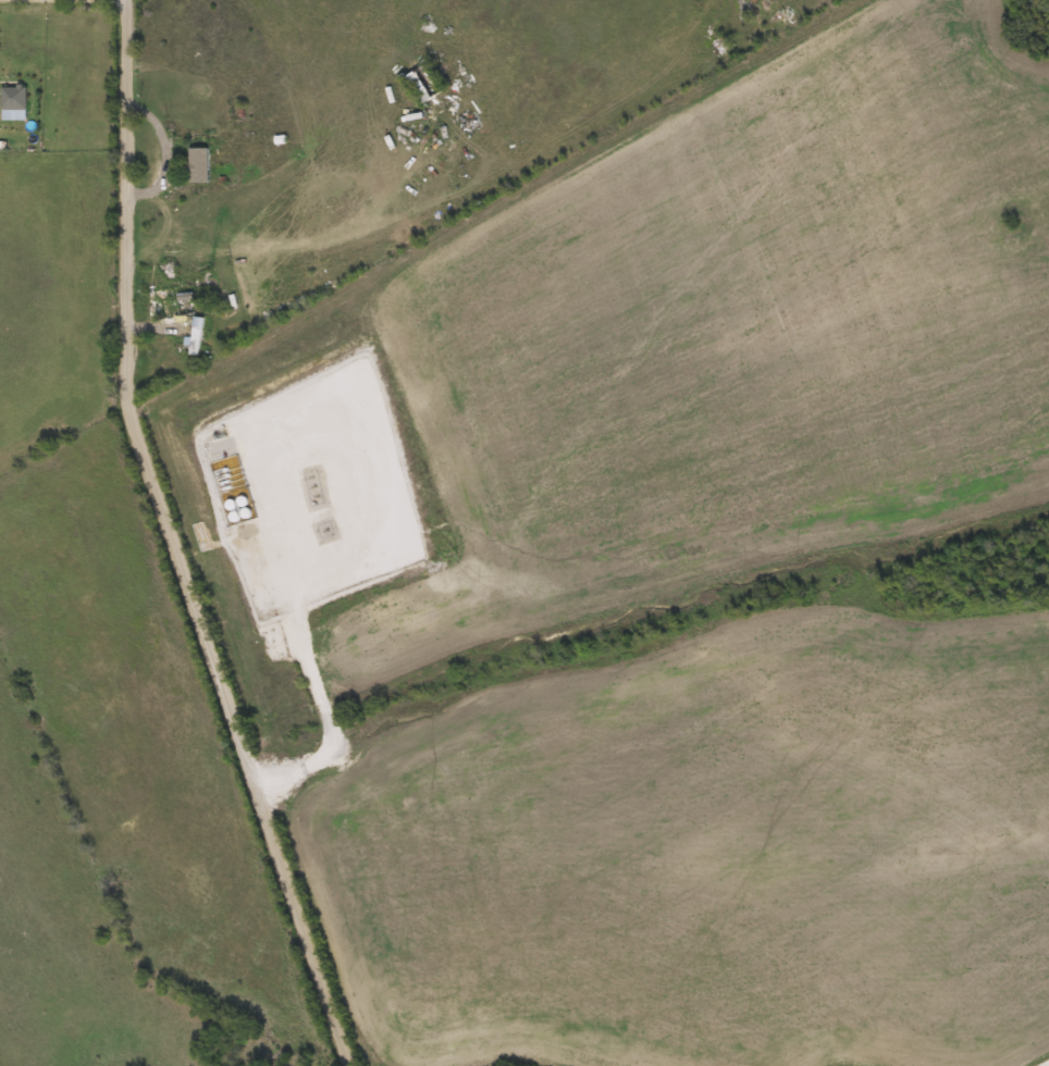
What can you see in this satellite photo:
building: (420, 87)
building: (14, 97)
building: (199, 165)
building: (197, 334)
road: (178, 544)
road: (306, 658)
road: (1048, 1065)

